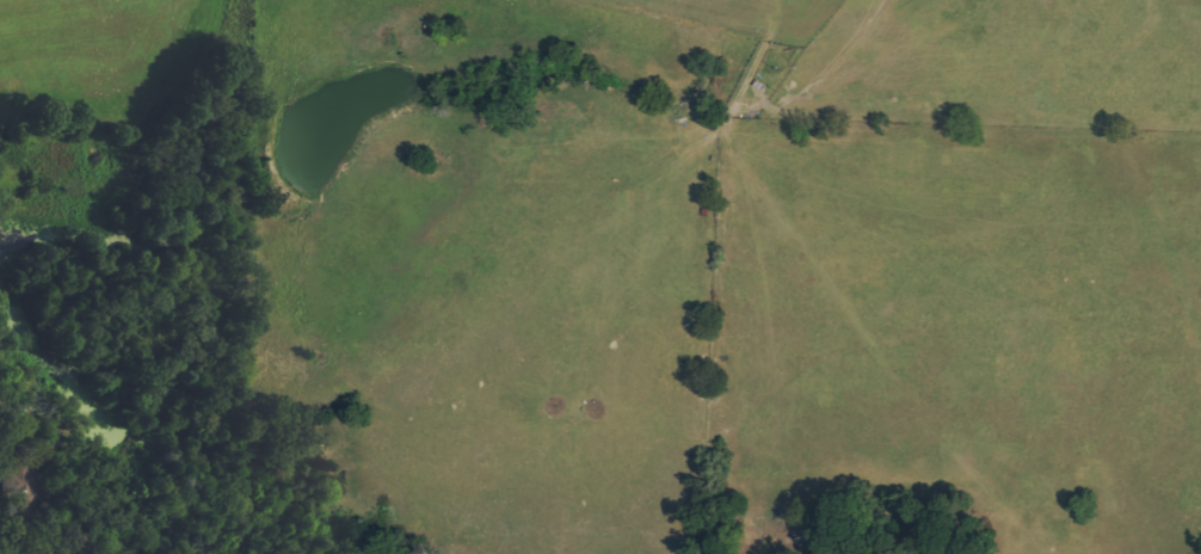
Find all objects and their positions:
road: (782, 11)
road: (39, 195)
road: (90, 236)
building: (14, 476)

